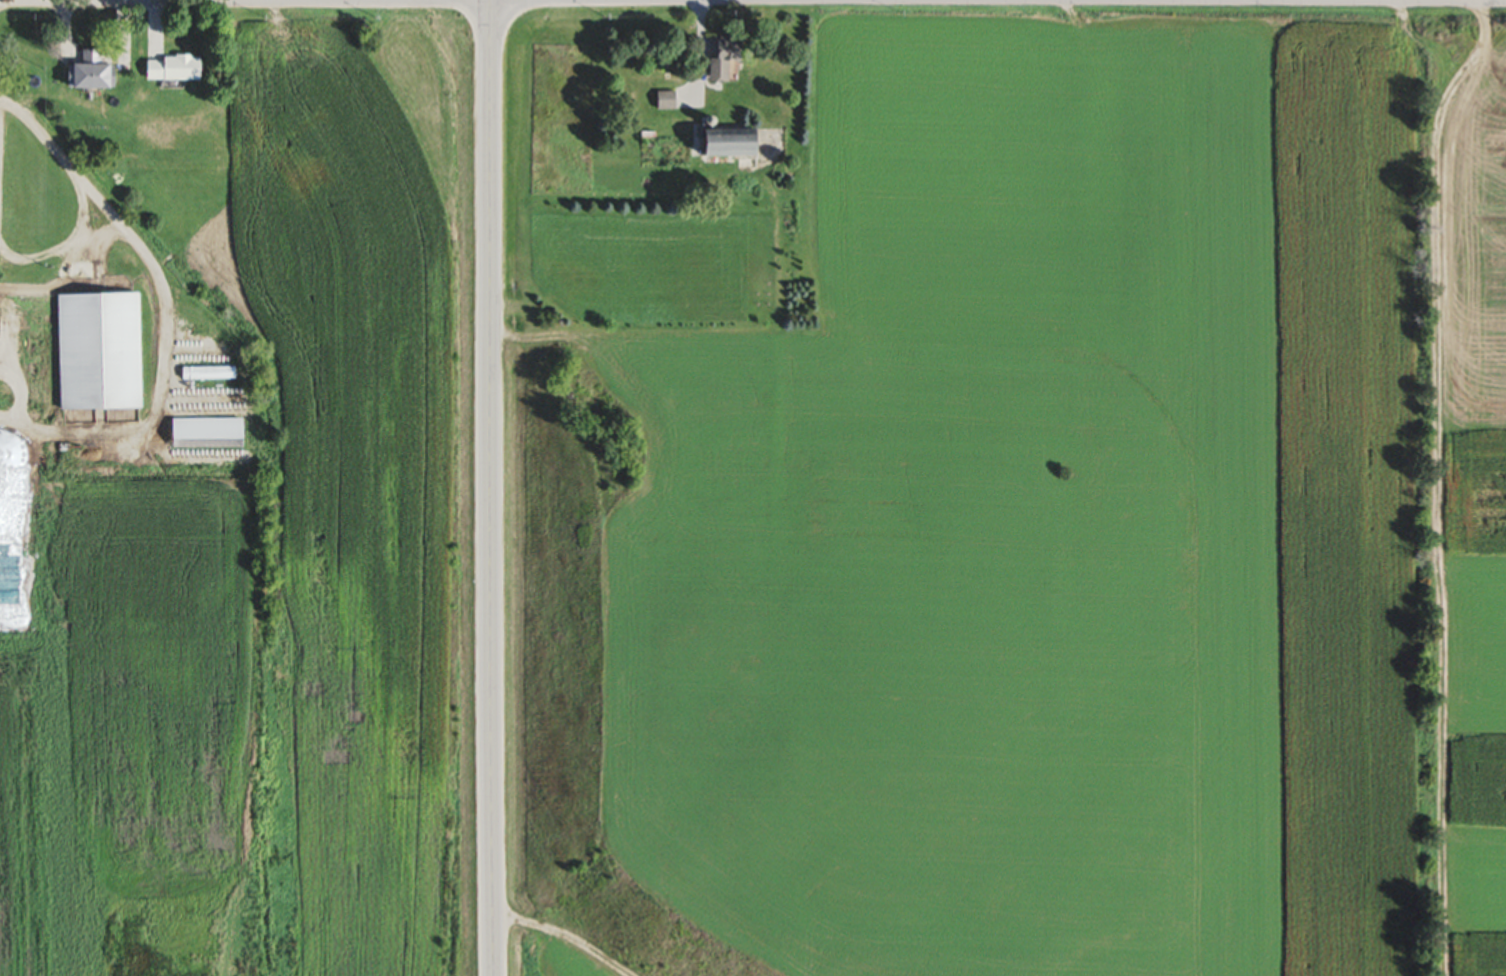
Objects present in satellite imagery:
road: (86, 0)
road: (1442, 0)
road: (703, 53)
building: (729, 59)
building: (177, 69)
building: (97, 72)
building: (669, 101)
building: (737, 145)
road: (58, 245)
road: (164, 316)
building: (103, 352)
building: (210, 374)
road: (493, 487)
building: (13, 490)

